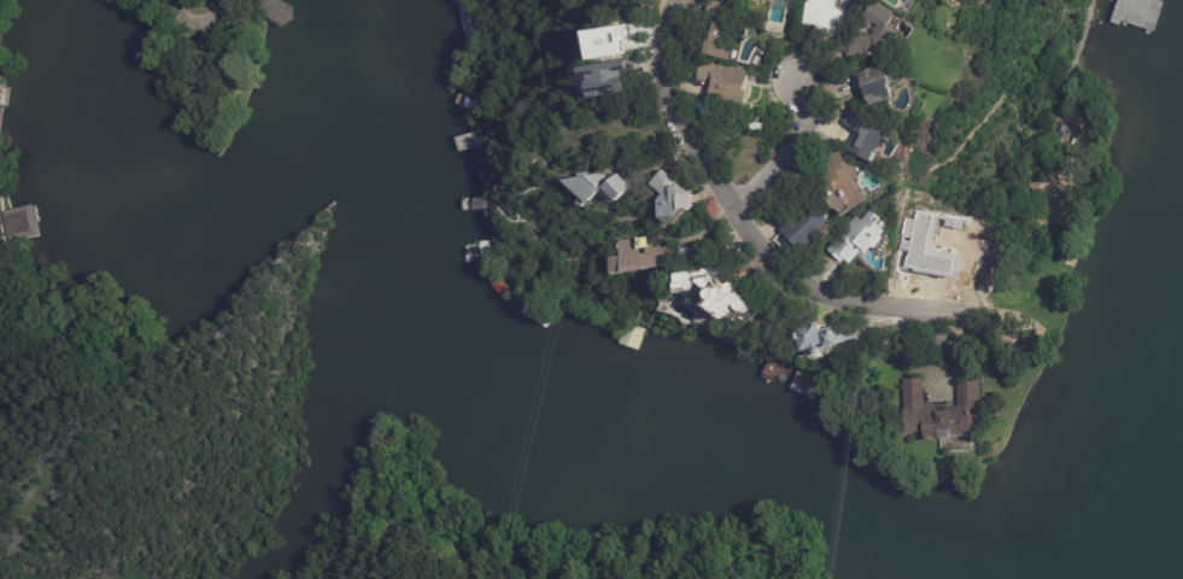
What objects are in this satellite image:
building: (844, 0)
building: (277, 11)
building: (824, 16)
building: (719, 28)
building: (879, 30)
building: (603, 42)
building: (605, 72)
building: (873, 80)
building: (722, 81)
building: (1, 93)
building: (755, 128)
building: (860, 133)
road: (792, 153)
building: (836, 183)
building: (593, 187)
building: (670, 201)
building: (709, 207)
building: (796, 223)
building: (17, 224)
road: (745, 226)
building: (857, 236)
building: (685, 253)
building: (626, 255)
building: (927, 258)
building: (713, 296)
building: (824, 334)
building: (916, 409)

